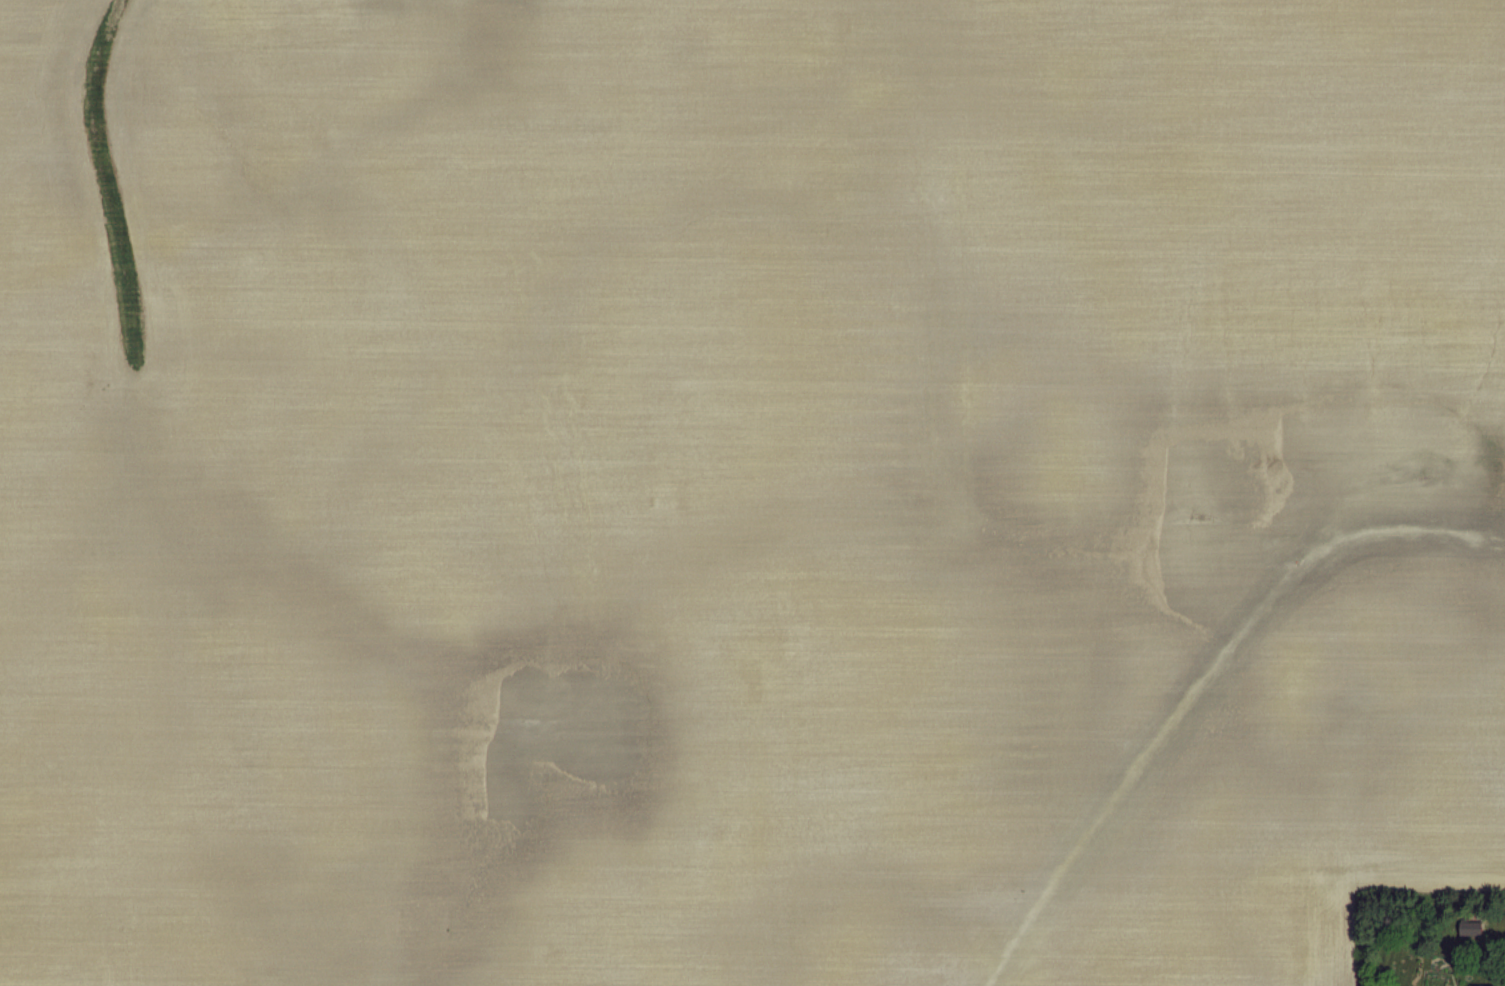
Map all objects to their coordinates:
building: (1472, 927)
building: (1489, 985)

